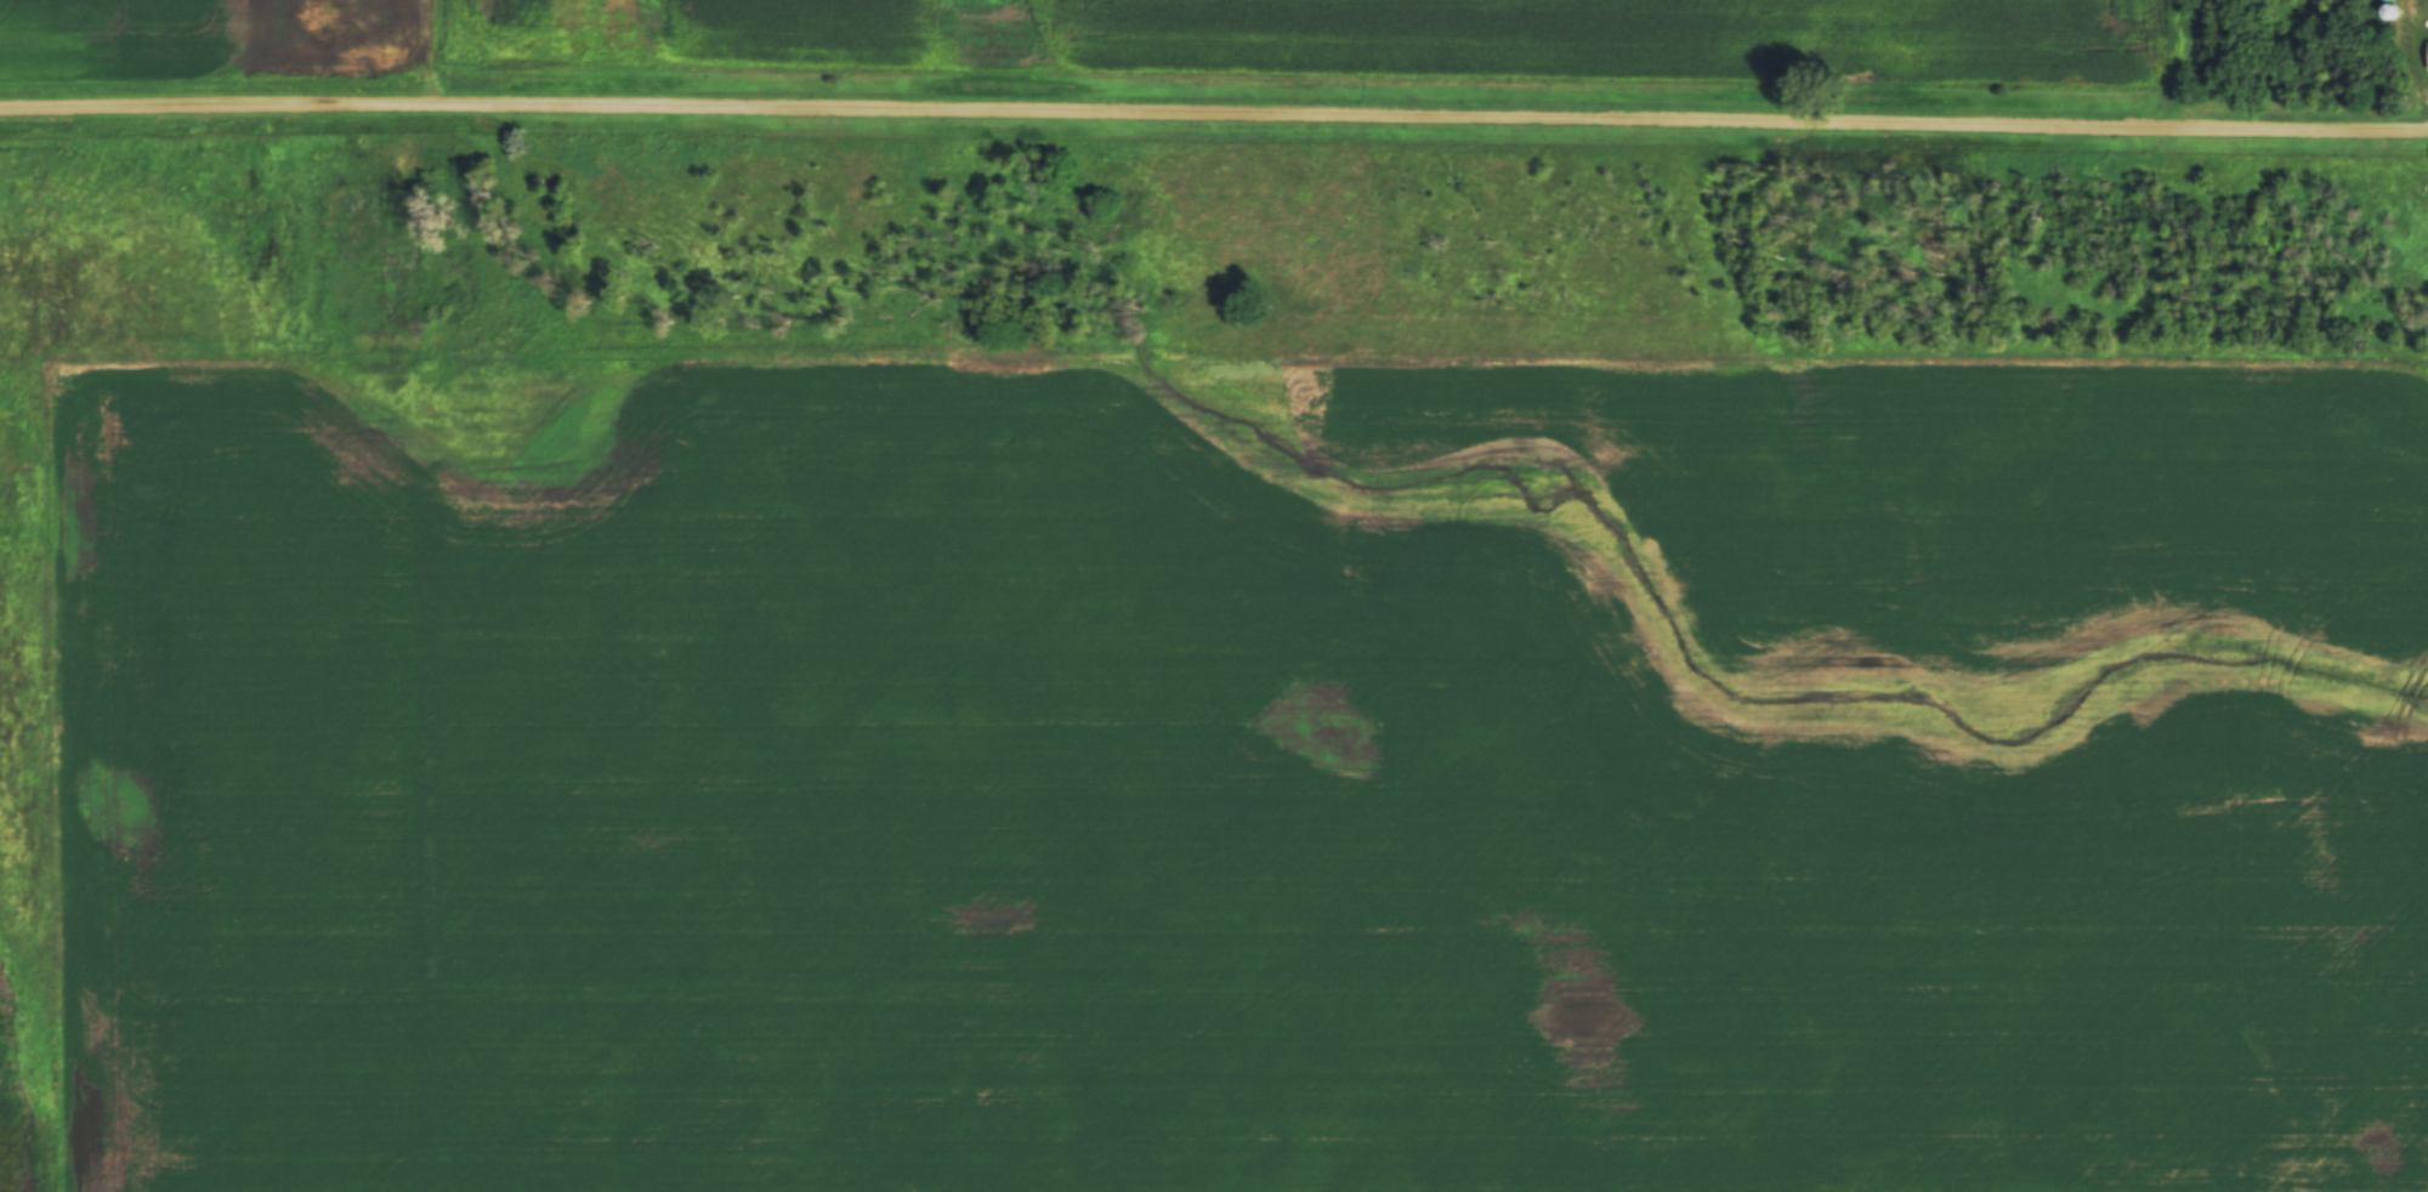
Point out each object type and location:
building: (2427, 53)
road: (1214, 114)

